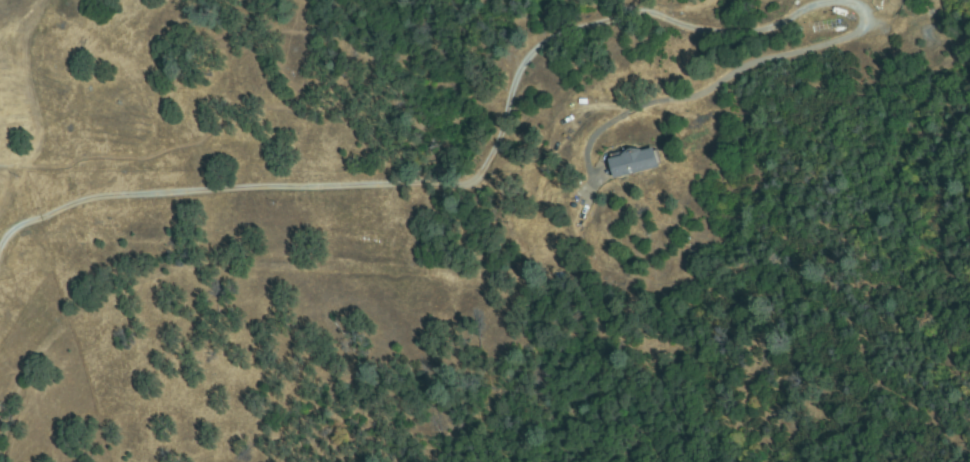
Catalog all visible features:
road: (828, 17)
road: (40, 104)
building: (635, 162)
road: (431, 183)

